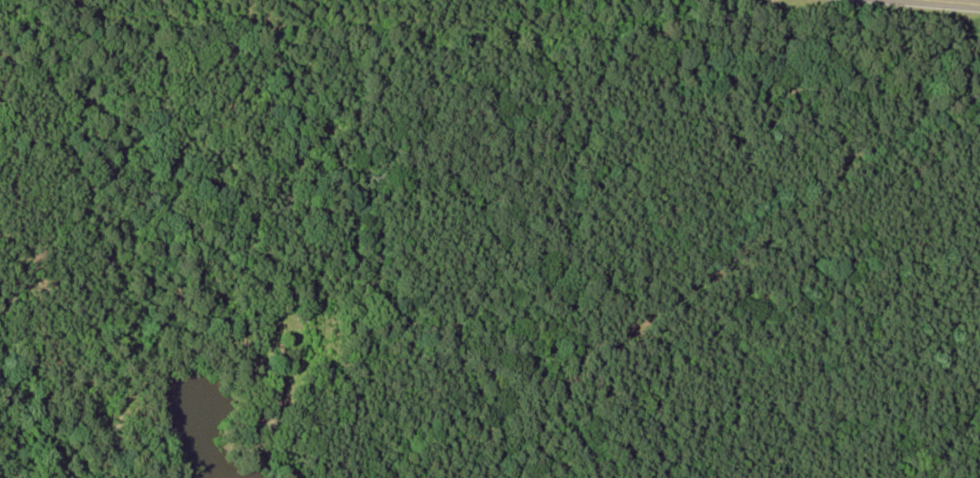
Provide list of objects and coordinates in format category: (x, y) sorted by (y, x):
road: (970, 0)

